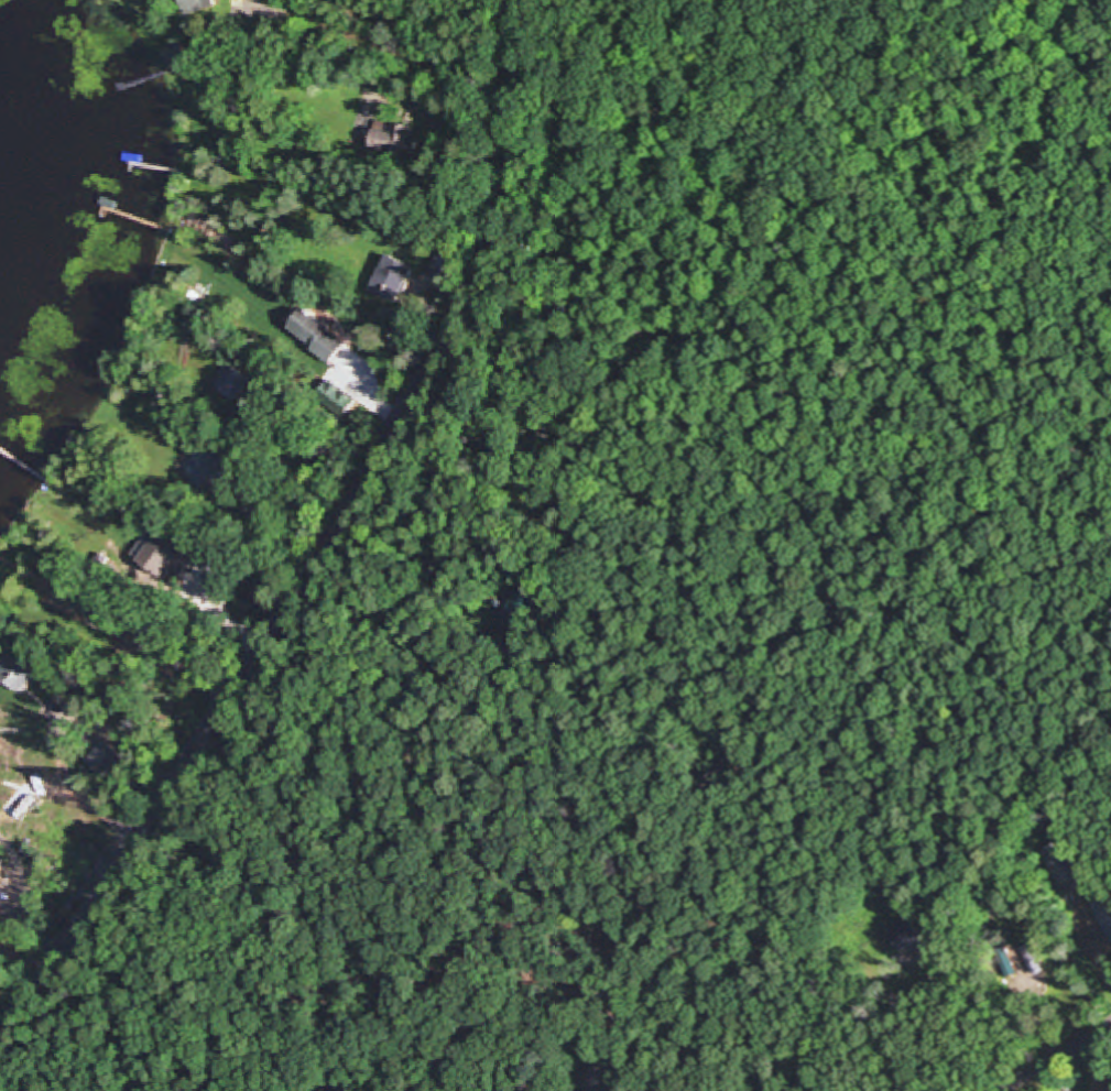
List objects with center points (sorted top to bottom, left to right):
building: (197, 7)
building: (176, 62)
building: (396, 143)
building: (393, 282)
building: (318, 338)
building: (233, 384)
building: (208, 470)
road: (335, 544)
building: (102, 552)
building: (72, 602)
building: (17, 674)
building: (1064, 861)
building: (905, 936)
building: (1022, 957)
road: (1055, 1060)
building: (606, 1079)

